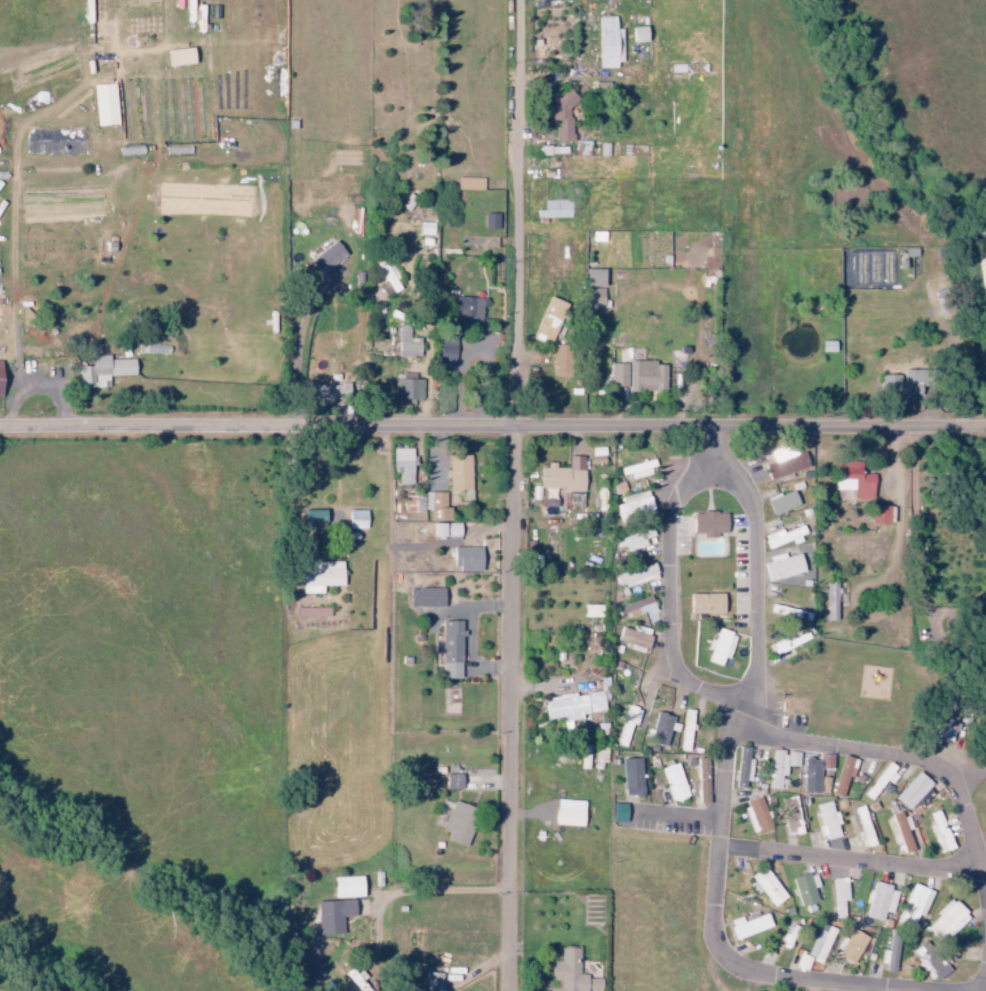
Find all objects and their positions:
building: (637, 34)
building: (607, 43)
building: (176, 57)
building: (560, 115)
building: (468, 183)
building: (553, 210)
road: (519, 214)
building: (489, 221)
building: (324, 258)
building: (385, 281)
building: (595, 289)
building: (467, 312)
building: (547, 320)
building: (406, 343)
building: (446, 350)
building: (559, 361)
building: (103, 370)
building: (637, 376)
building: (888, 386)
building: (408, 391)
road: (492, 428)
road: (718, 447)
building: (783, 463)
building: (401, 465)
building: (637, 470)
building: (457, 472)
building: (561, 475)
building: (850, 483)
building: (574, 500)
building: (548, 502)
road: (300, 503)
building: (780, 503)
building: (413, 504)
building: (435, 506)
building: (632, 507)
building: (310, 516)
building: (879, 516)
building: (355, 520)
building: (707, 524)
building: (443, 530)
road: (920, 535)
building: (782, 537)
building: (465, 559)
building: (780, 567)
building: (318, 576)
building: (633, 576)
building: (424, 597)
building: (703, 604)
building: (634, 608)
building: (591, 611)
building: (312, 612)
building: (787, 613)
building: (631, 639)
building: (719, 647)
building: (449, 650)
road: (721, 696)
building: (575, 705)
road: (515, 709)
building: (626, 725)
building: (662, 729)
building: (686, 730)
road: (904, 756)
building: (742, 768)
building: (775, 768)
building: (812, 773)
building: (842, 775)
building: (629, 778)
building: (879, 781)
building: (452, 782)
building: (673, 782)
building: (702, 782)
building: (912, 792)
road: (688, 809)
building: (566, 813)
building: (616, 813)
building: (794, 821)
building: (826, 821)
building: (458, 824)
building: (861, 827)
building: (900, 833)
building: (938, 833)
road: (854, 859)
building: (767, 887)
building: (344, 888)
building: (804, 890)
building: (838, 897)
building: (878, 902)
building: (913, 905)
building: (331, 916)
road: (719, 924)
building: (747, 926)
building: (851, 947)
building: (888, 957)
building: (929, 966)
building: (569, 974)
building: (431, 982)

